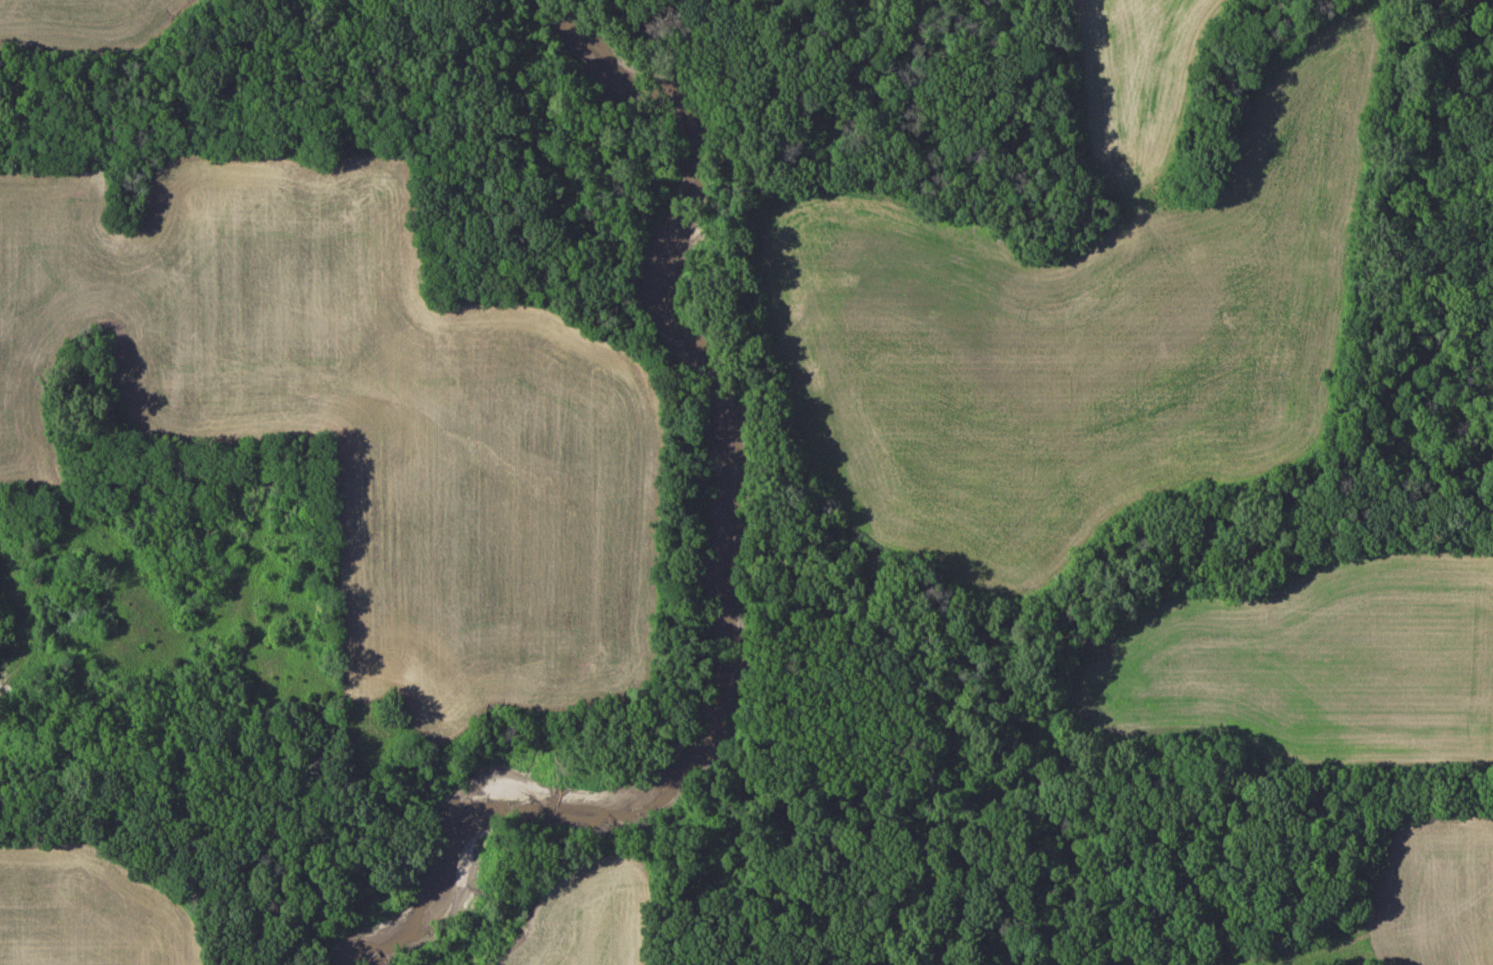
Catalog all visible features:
river: (715, 544)

